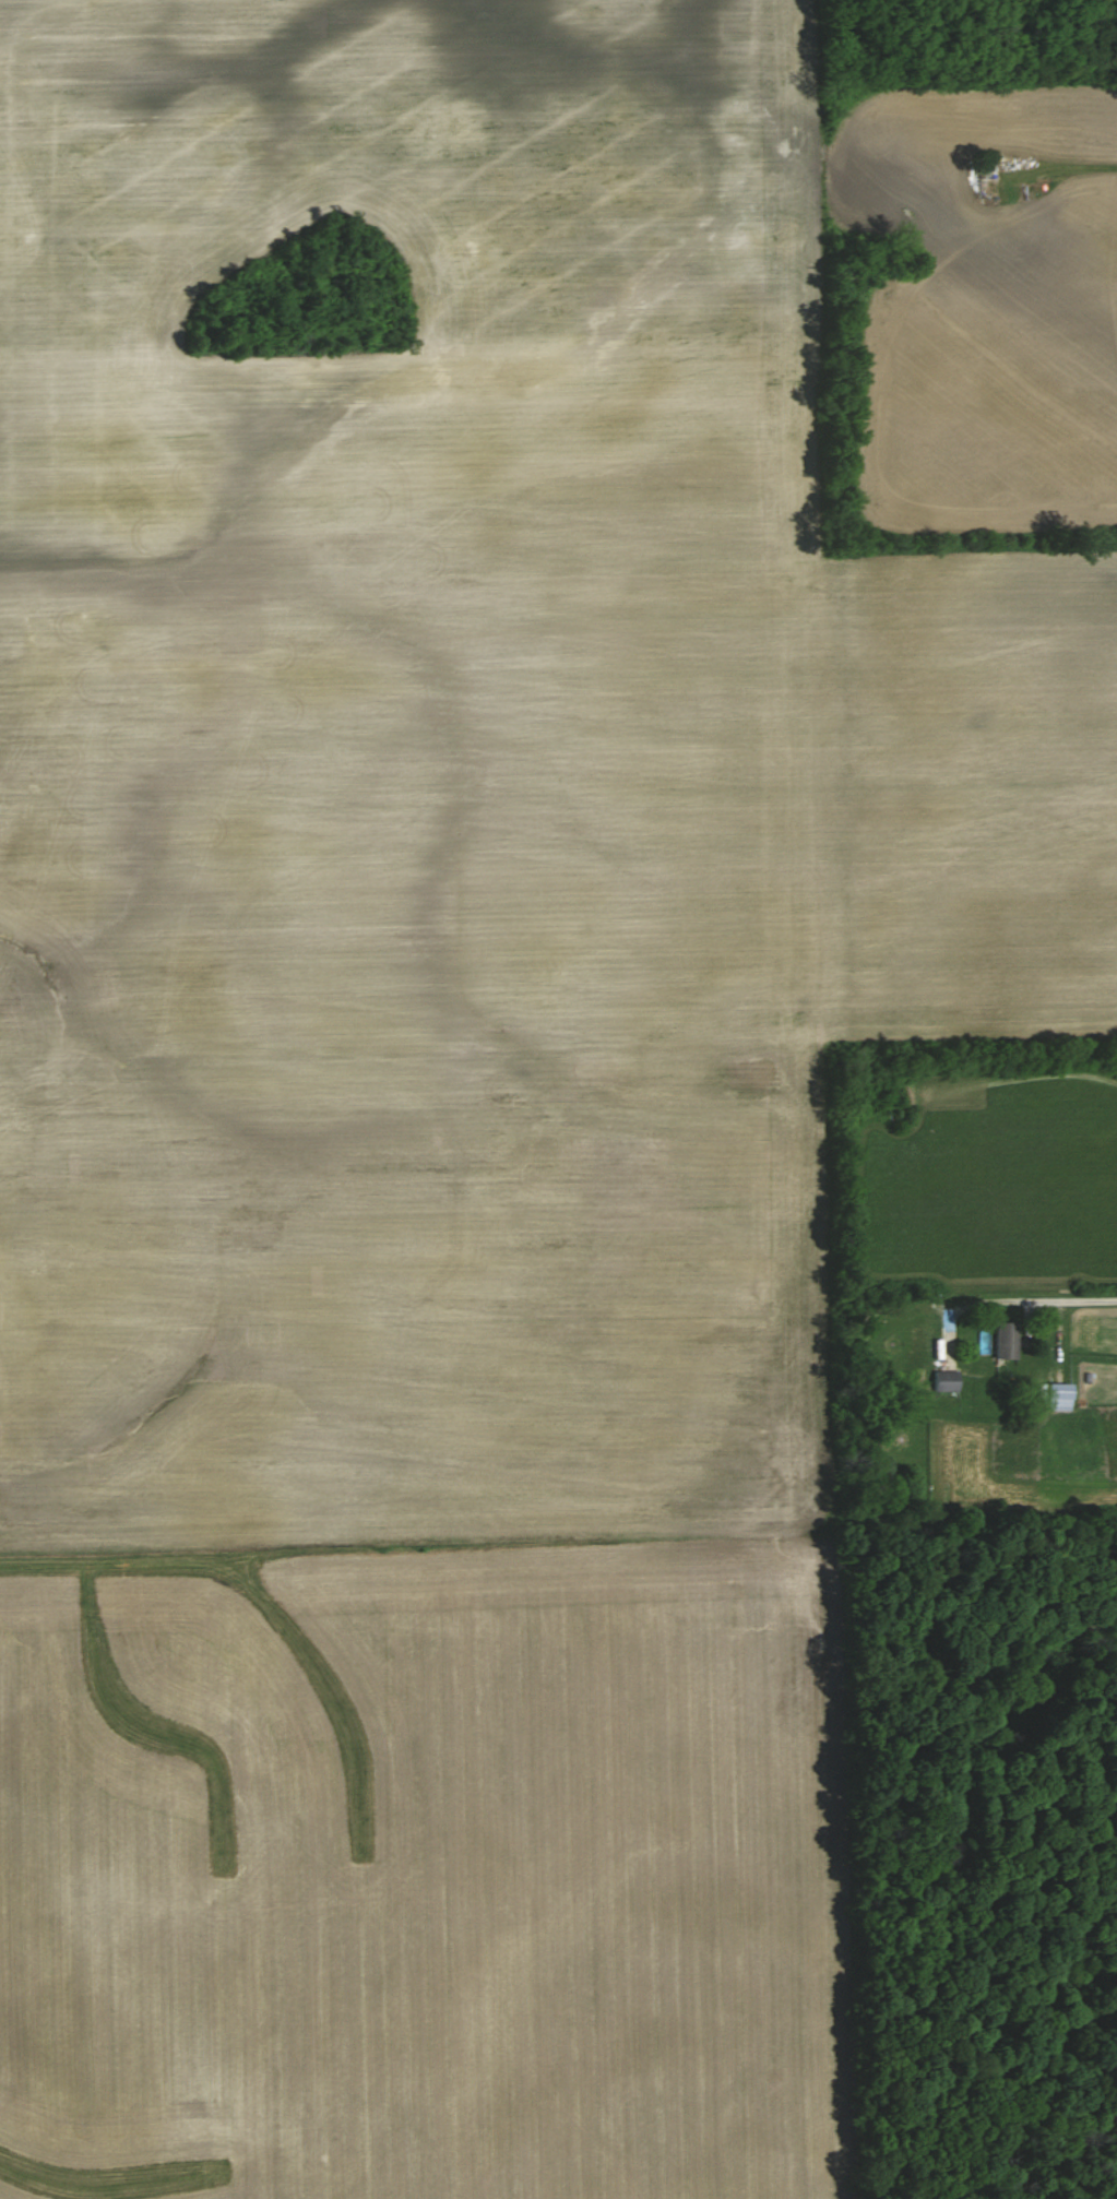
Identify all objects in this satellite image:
road: (1008, 1297)
building: (1002, 1339)
building: (942, 1380)
building: (1054, 1396)
road: (1020, 1995)
road: (1055, 2152)

